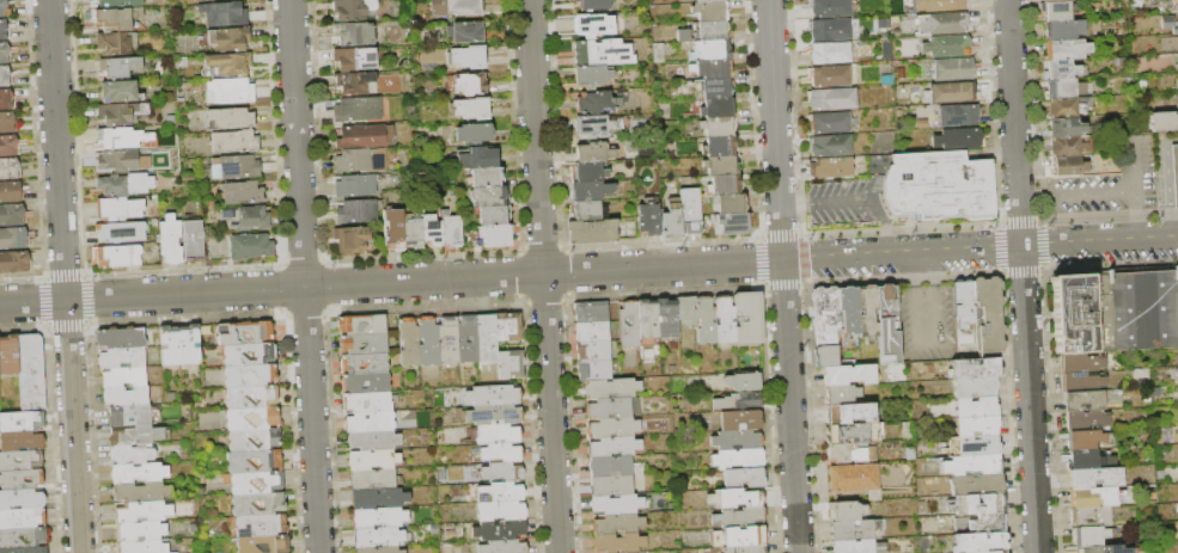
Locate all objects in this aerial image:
building: (206, 0)
building: (1050, 0)
building: (708, 1)
building: (115, 4)
building: (592, 5)
building: (939, 5)
building: (5, 7)
building: (457, 7)
building: (832, 7)
building: (352, 8)
building: (710, 11)
building: (1056, 11)
building: (222, 14)
building: (116, 19)
building: (1167, 21)
building: (942, 24)
building: (592, 25)
building: (5, 29)
building: (1063, 29)
building: (828, 30)
building: (706, 31)
building: (466, 32)
building: (353, 33)
building: (228, 39)
building: (115, 43)
building: (947, 47)
building: (1066, 49)
building: (712, 50)
building: (5, 51)
building: (602, 53)
building: (828, 53)
building: (466, 56)
building: (352, 59)
building: (226, 64)
building: (1177, 66)
building: (117, 67)
building: (712, 69)
building: (953, 69)
building: (1060, 69)
building: (590, 75)
building: (5, 76)
building: (826, 76)
building: (353, 82)
building: (470, 84)
building: (712, 88)
building: (1066, 88)
building: (231, 91)
building: (118, 92)
building: (953, 93)
building: (7, 99)
building: (830, 99)
building: (598, 102)
building: (472, 107)
building: (1063, 107)
building: (358, 109)
building: (716, 109)
building: (121, 113)
building: (958, 116)
building: (230, 118)
building: (1162, 121)
building: (8, 122)
building: (829, 123)
building: (593, 125)
building: (718, 127)
building: (1063, 127)
building: (474, 133)
building: (364, 136)
building: (120, 139)
building: (959, 139)
building: (234, 141)
building: (10, 145)
building: (719, 146)
building: (830, 146)
building: (1066, 146)
building: (592, 152)
building: (477, 158)
building: (360, 160)
building: (120, 161)
building: (875, 162)
building: (721, 165)
building: (1068, 165)
road: (1134, 166)
building: (236, 167)
building: (831, 167)
road: (1164, 167)
building: (10, 168)
building: (587, 172)
building: (1174, 173)
building: (484, 177)
parking lot: (1109, 183)
building: (122, 185)
building: (354, 185)
building: (724, 185)
building: (938, 186)
building: (588, 190)
building: (11, 191)
road: (1099, 191)
parking lot: (1109, 191)
building: (243, 192)
road: (1033, 195)
building: (489, 196)
road: (850, 197)
parking lot: (844, 201)
road: (793, 202)
building: (730, 204)
building: (116, 209)
building: (356, 210)
building: (586, 210)
building: (689, 211)
building: (13, 215)
building: (494, 215)
building: (245, 217)
building: (647, 220)
building: (671, 220)
building: (731, 223)
road: (1137, 223)
road: (1168, 223)
building: (393, 229)
building: (451, 229)
building: (432, 231)
building: (118, 232)
building: (590, 232)
building: (413, 233)
building: (496, 234)
road: (884, 236)
building: (14, 238)
building: (352, 239)
building: (169, 240)
building: (193, 240)
building: (250, 246)
building: (116, 256)
building: (14, 262)
road: (936, 269)
road: (588, 270)
road: (911, 271)
road: (63, 276)
road: (304, 276)
road: (543, 276)
road: (782, 276)
road: (1023, 276)
building: (963, 302)
building: (848, 309)
building: (685, 311)
building: (1136, 311)
building: (590, 312)
building: (867, 313)
building: (1070, 313)
building: (824, 315)
building: (988, 317)
building: (665, 318)
building: (646, 319)
building: (747, 319)
building: (724, 320)
building: (704, 321)
parking lot: (926, 322)
building: (361, 324)
building: (887, 324)
building: (507, 325)
building: (628, 325)
building: (244, 332)
building: (591, 332)
building: (486, 337)
building: (121, 338)
building: (447, 339)
building: (472, 339)
building: (408, 340)
building: (427, 340)
road: (928, 342)
building: (189, 344)
building: (170, 345)
building: (376, 345)
building: (592, 350)
building: (249, 354)
building: (7, 355)
building: (825, 356)
building: (121, 357)
building: (364, 362)
building: (509, 363)
building: (1080, 363)
building: (973, 369)
building: (593, 370)
building: (29, 371)
building: (250, 374)
building: (848, 375)
building: (123, 376)
building: (350, 382)
building: (743, 382)
building: (1081, 382)
building: (973, 387)
building: (610, 389)
building: (492, 394)
building: (126, 395)
building: (251, 395)
building: (840, 395)
building: (367, 400)
building: (738, 401)
building: (1082, 401)
building: (975, 407)
building: (612, 408)
building: (494, 413)
building: (849, 413)
building: (129, 414)
building: (252, 418)
building: (22, 420)
building: (368, 420)
building: (740, 420)
building: (1085, 420)
building: (976, 426)
building: (612, 428)
building: (495, 432)
building: (854, 434)
building: (134, 435)
building: (1082, 438)
building: (20, 440)
building: (254, 440)
building: (372, 440)
building: (737, 441)
building: (612, 447)
building: (973, 447)
building: (500, 451)
building: (850, 453)
building: (129, 454)
building: (372, 459)
building: (19, 460)
building: (254, 460)
building: (738, 460)
building: (1086, 460)
building: (972, 466)
building: (614, 467)
building: (501, 471)
building: (139, 472)
building: (1094, 478)
building: (20, 479)
building: (371, 479)
building: (743, 479)
building: (855, 479)
building: (255, 481)
building: (976, 484)
building: (610, 485)
building: (502, 490)
building: (140, 491)
building: (377, 497)
building: (1091, 497)
building: (22, 498)
building: (734, 499)
building: (1177, 502)
building: (258, 503)
building: (977, 504)
building: (616, 505)
building: (500, 510)
building: (142, 511)
building: (847, 511)
building: (378, 516)
building: (1090, 516)
building: (22, 518)
building: (738, 518)
building: (987, 523)
building: (616, 524)
building: (260, 526)
building: (499, 529)
building: (854, 529)
building: (140, 530)
building: (379, 536)
building: (1087, 536)
building: (22, 537)
building: (738, 537)
building: (979, 542)
building: (263, 543)
building: (618, 543)
building: (141, 546)
building: (502, 546)
building: (857, 546)
building: (24, 549)
building: (379, 549)
building: (750, 549)
building: (1098, 549)
building: (726, 551)
building: (997, 552)

